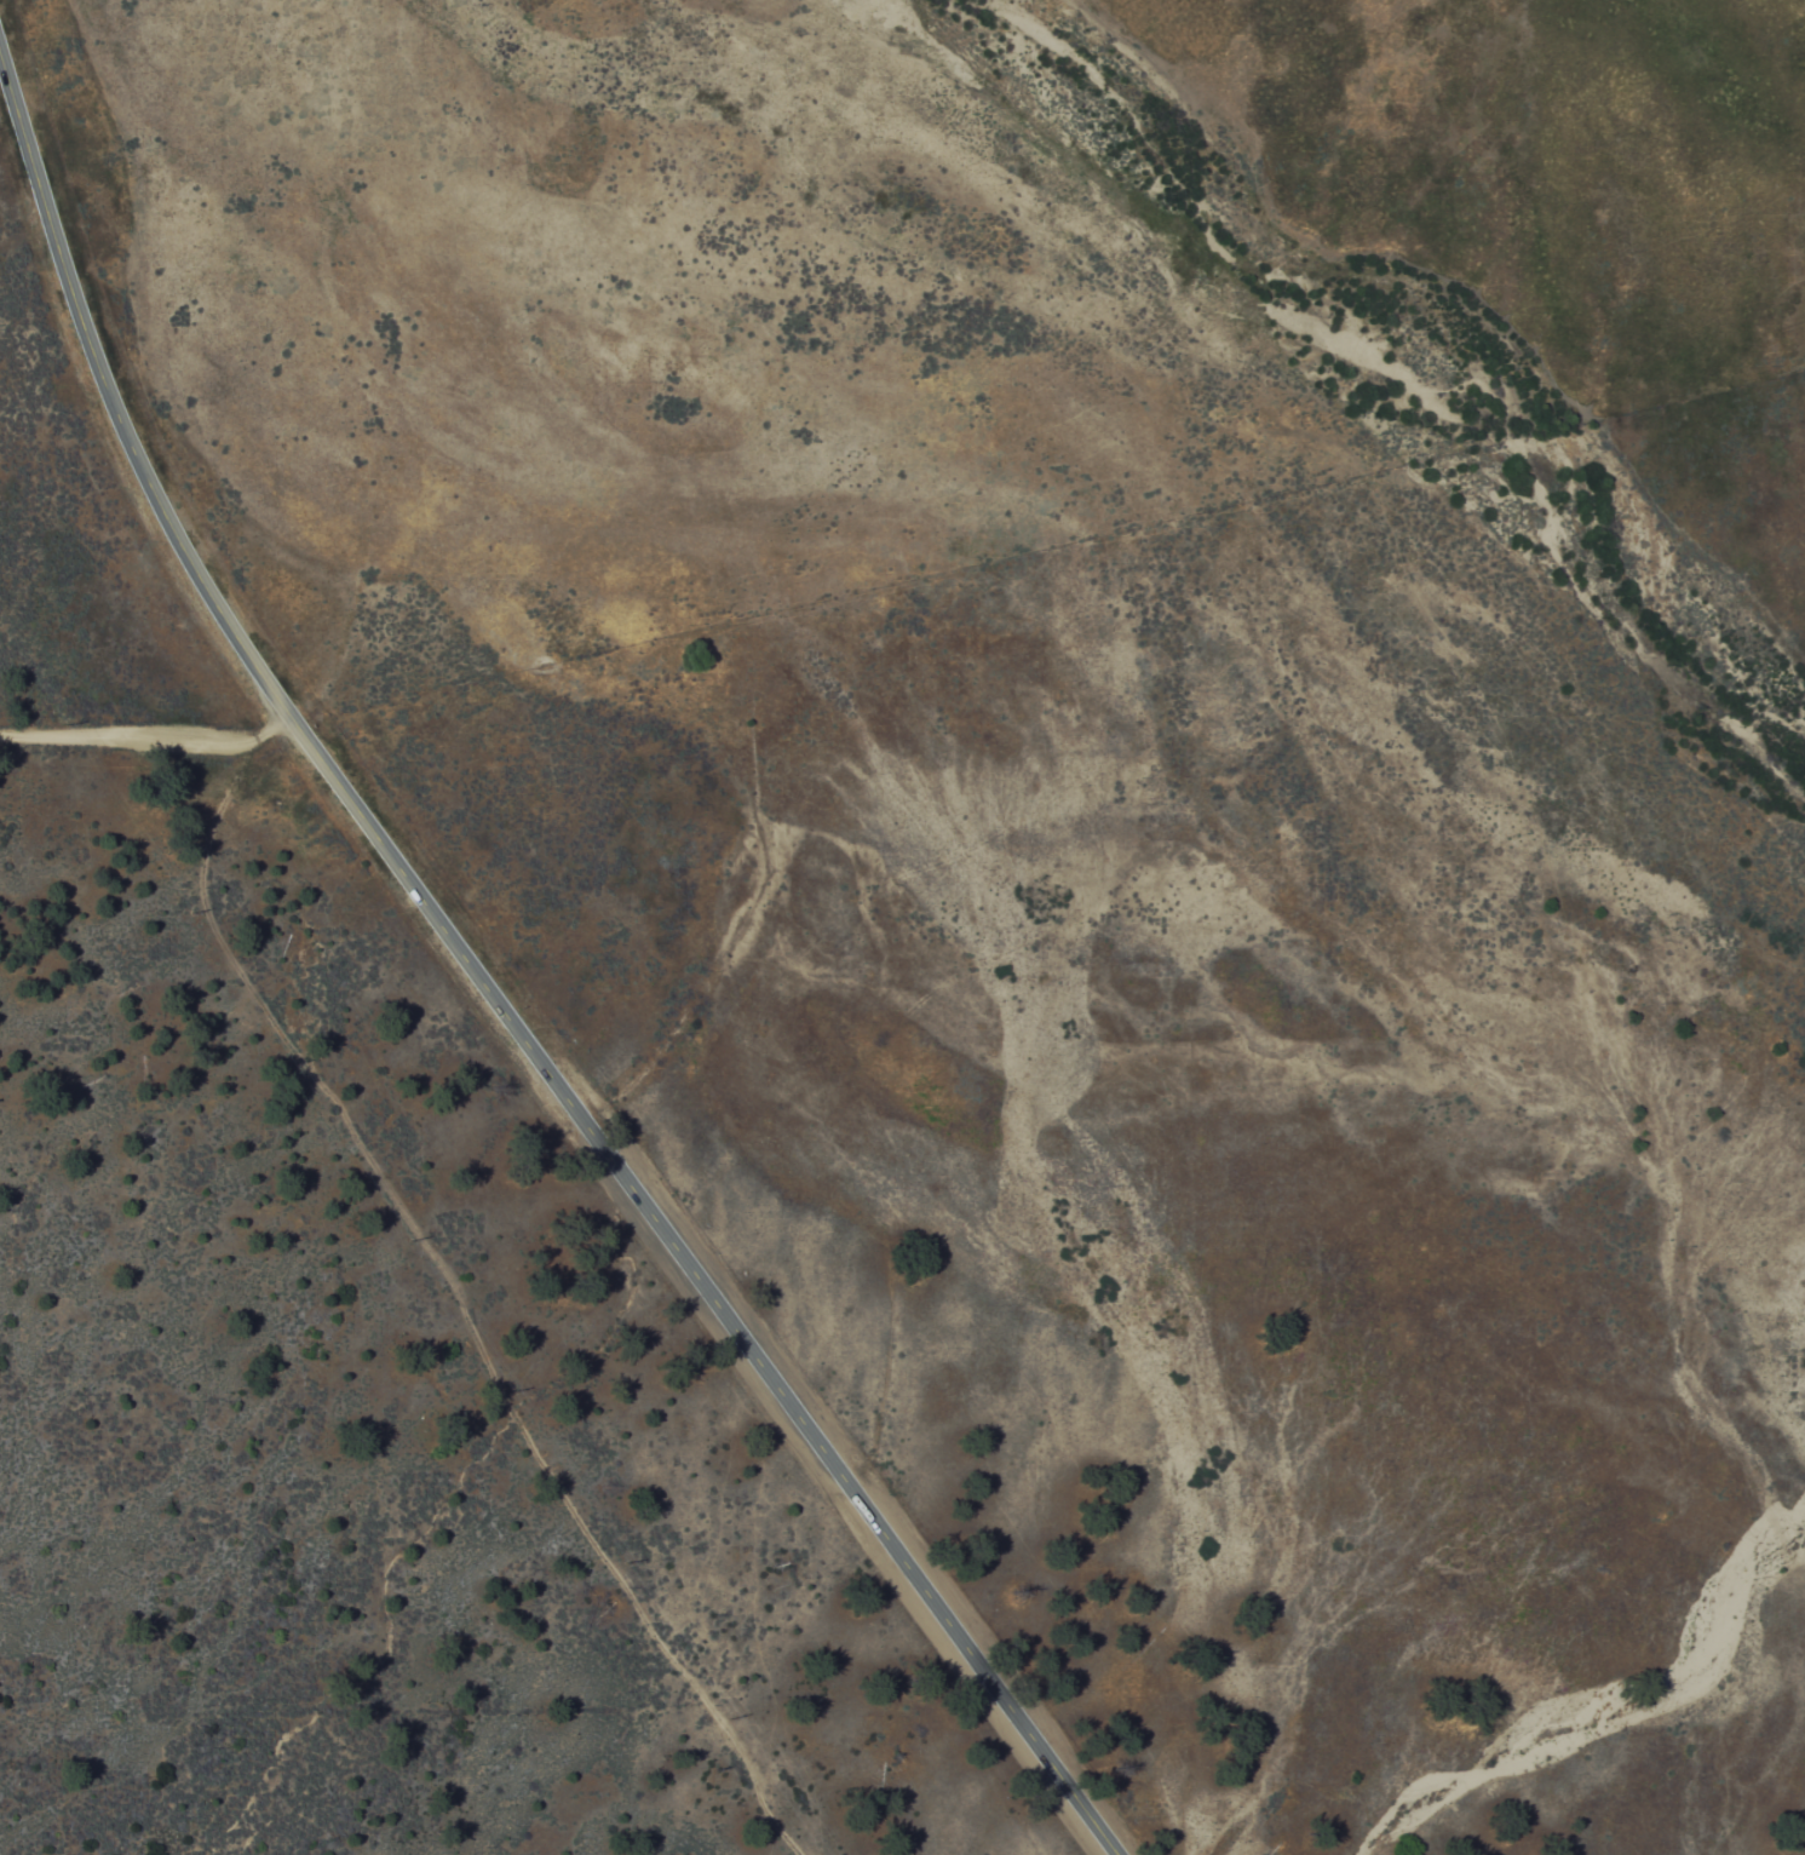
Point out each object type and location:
river: (1402, 364)
road: (148, 736)
road: (489, 990)
road: (461, 1302)

